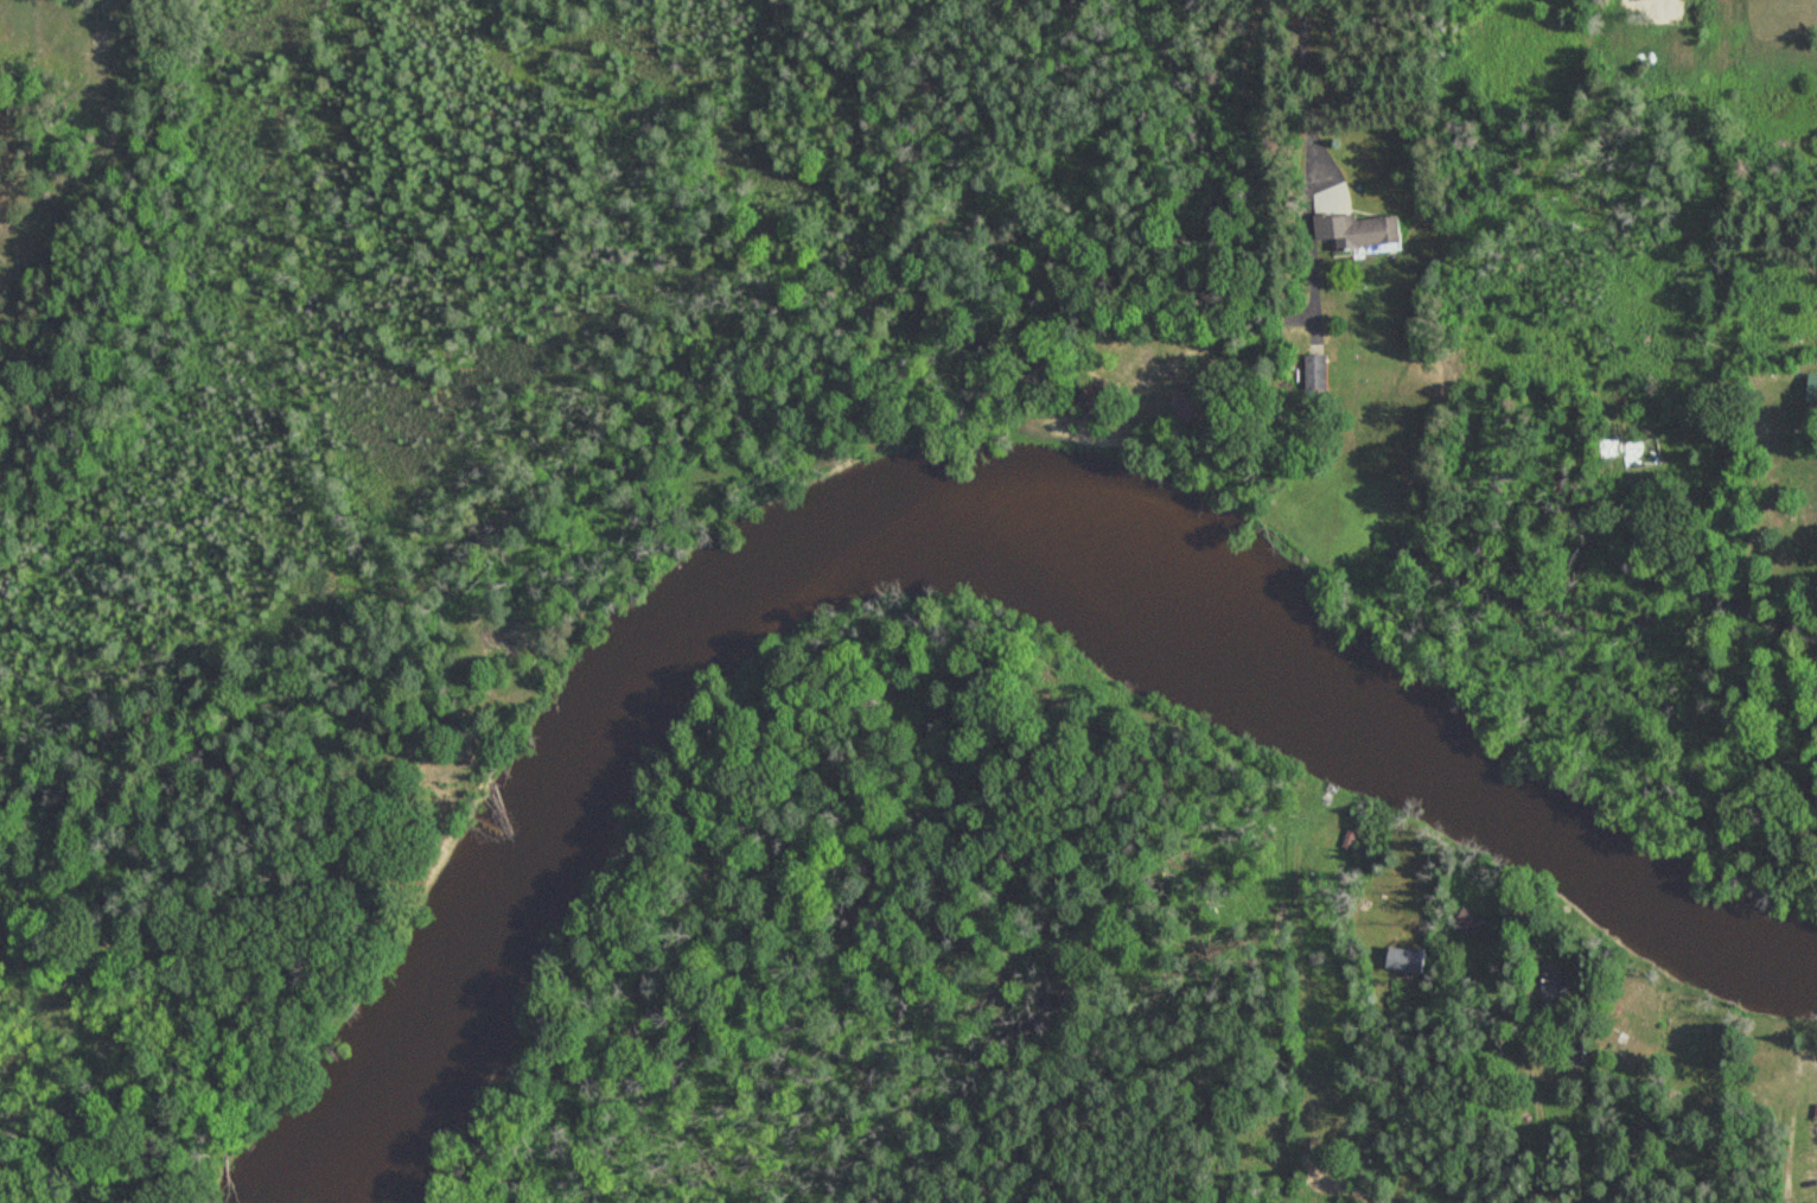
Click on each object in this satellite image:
building: (1664, 8)
road: (999, 204)
building: (1363, 230)
road: (1265, 237)
building: (1320, 373)
building: (1811, 388)
building: (1777, 390)
building: (1103, 394)
river: (961, 532)
building: (1327, 842)
building: (1469, 924)
building: (1556, 985)
building: (1617, 1020)
road: (1391, 1083)
road: (1487, 1103)
road: (1570, 1127)
road: (1226, 1158)
road: (1791, 1158)
road: (1719, 1169)

